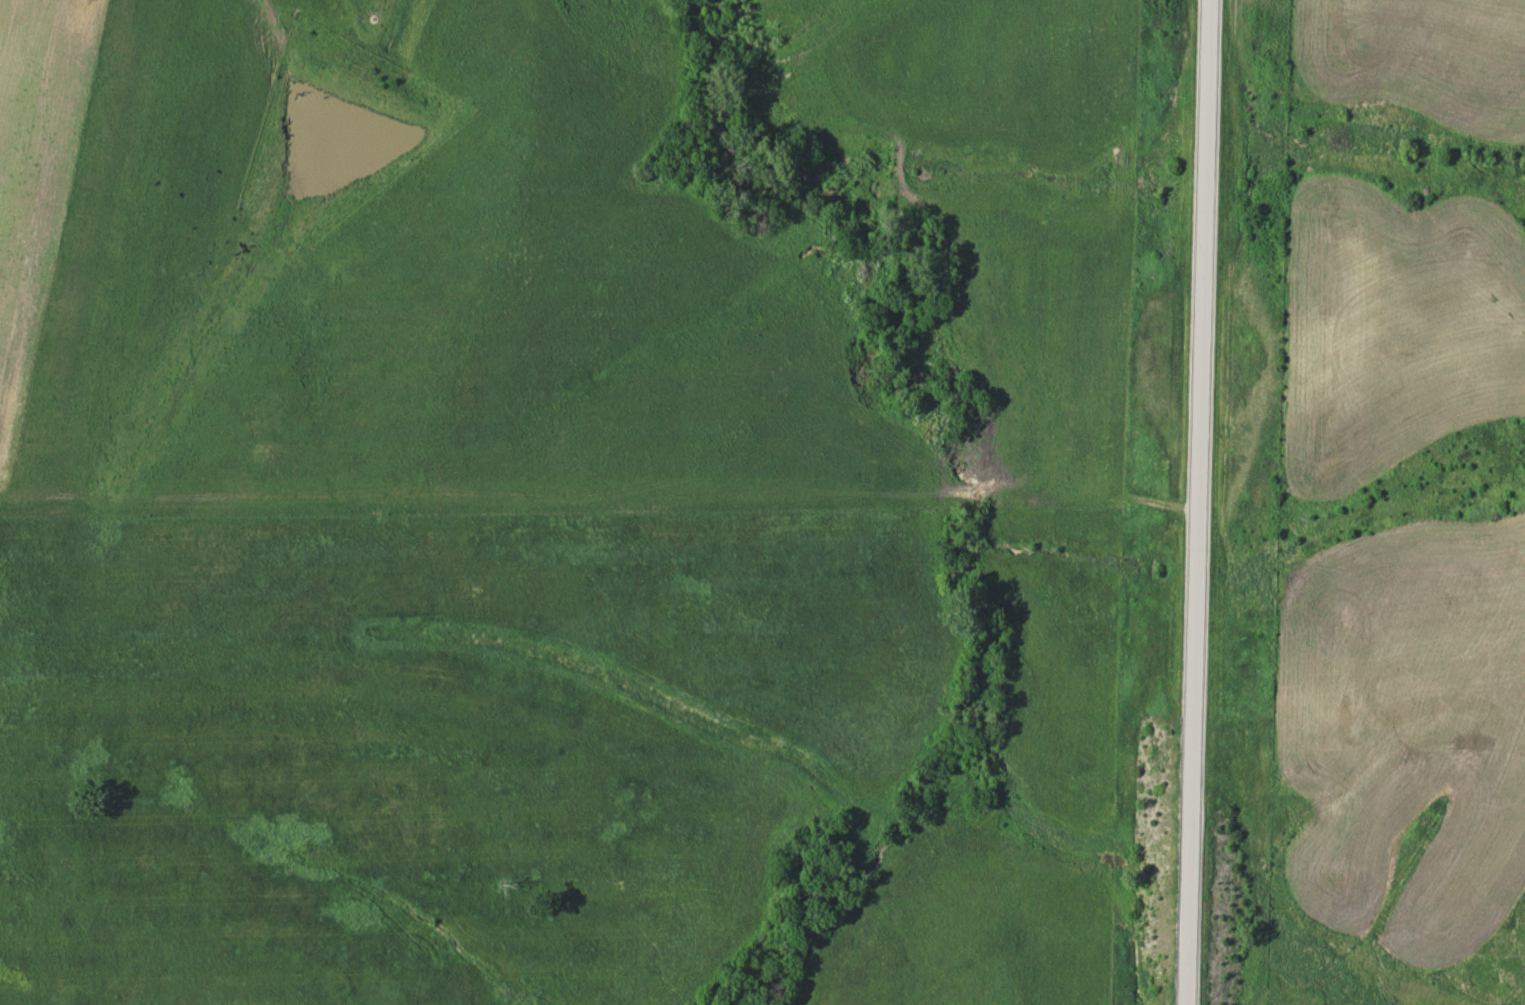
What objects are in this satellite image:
road: (1198, 502)

